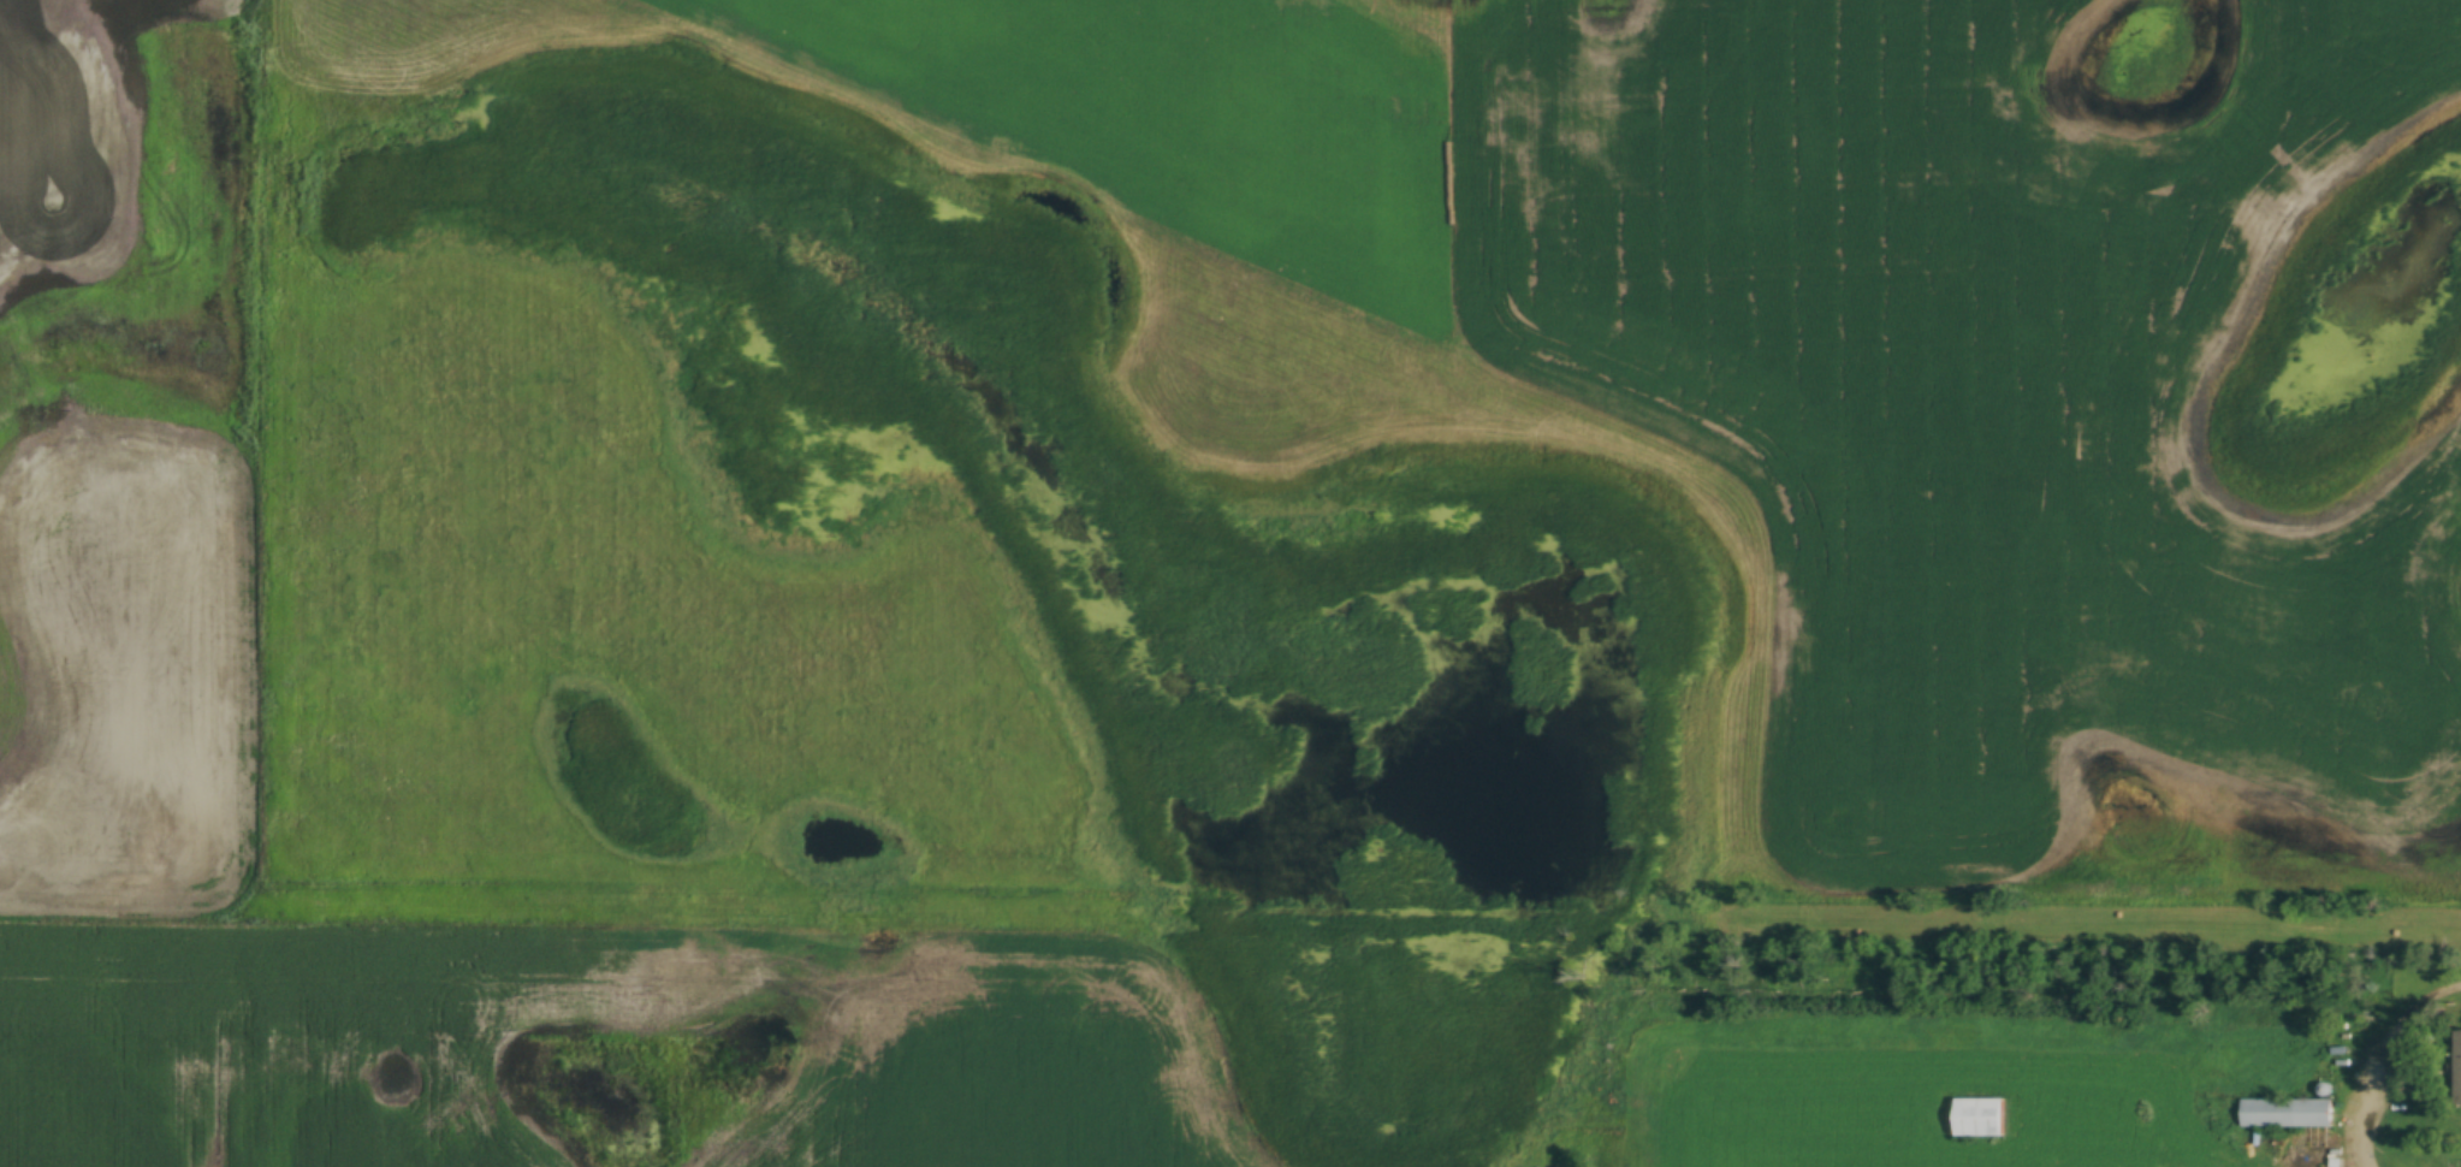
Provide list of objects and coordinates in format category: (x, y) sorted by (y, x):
road: (2376, 1052)
building: (2455, 1066)
building: (2282, 1109)
building: (1975, 1115)

